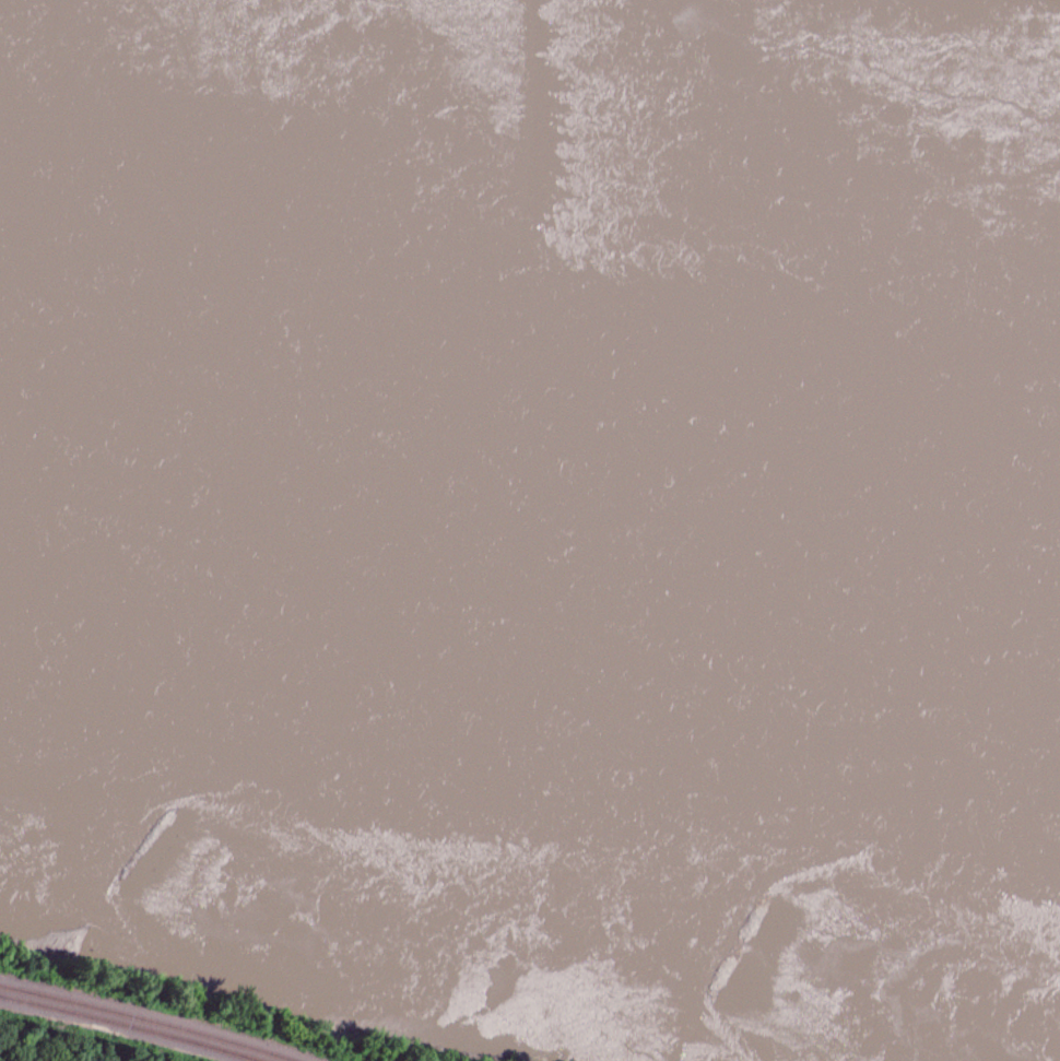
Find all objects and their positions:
river: (530, 514)
railway: (145, 1019)
railway: (130, 1026)

